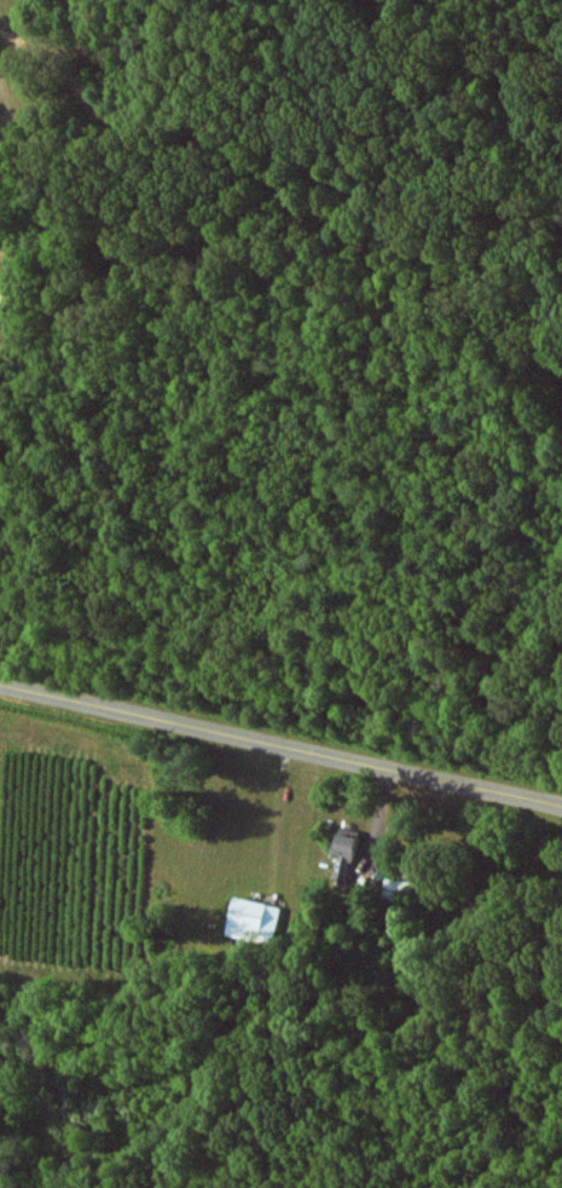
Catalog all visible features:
road: (280, 679)
road: (280, 745)
building: (344, 853)
building: (254, 919)

